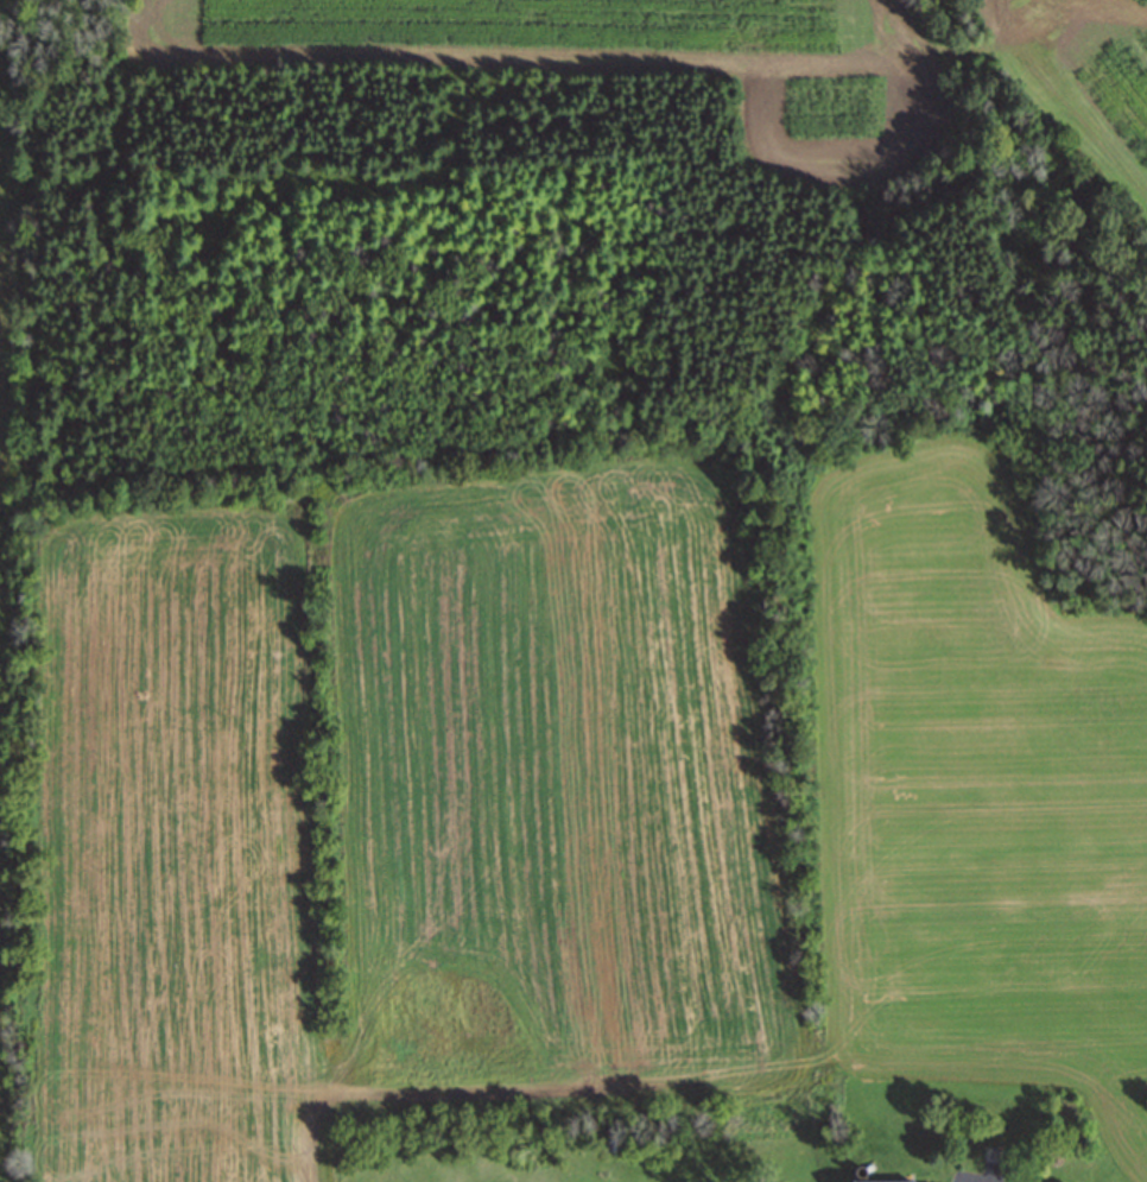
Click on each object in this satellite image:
building: (876, 1181)

